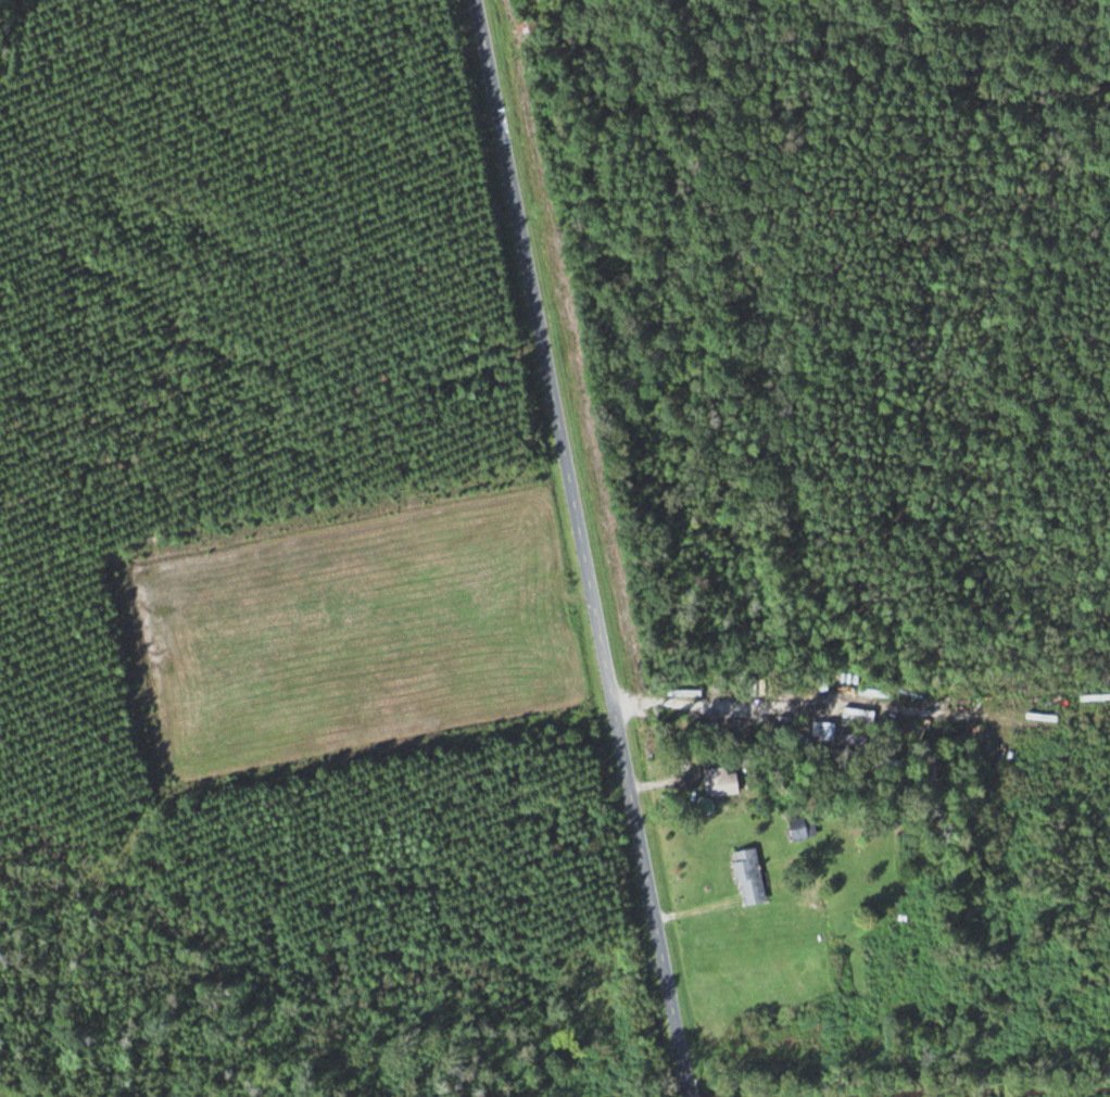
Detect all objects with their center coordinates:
road: (588, 547)
building: (932, 774)
building: (721, 782)
building: (748, 877)

